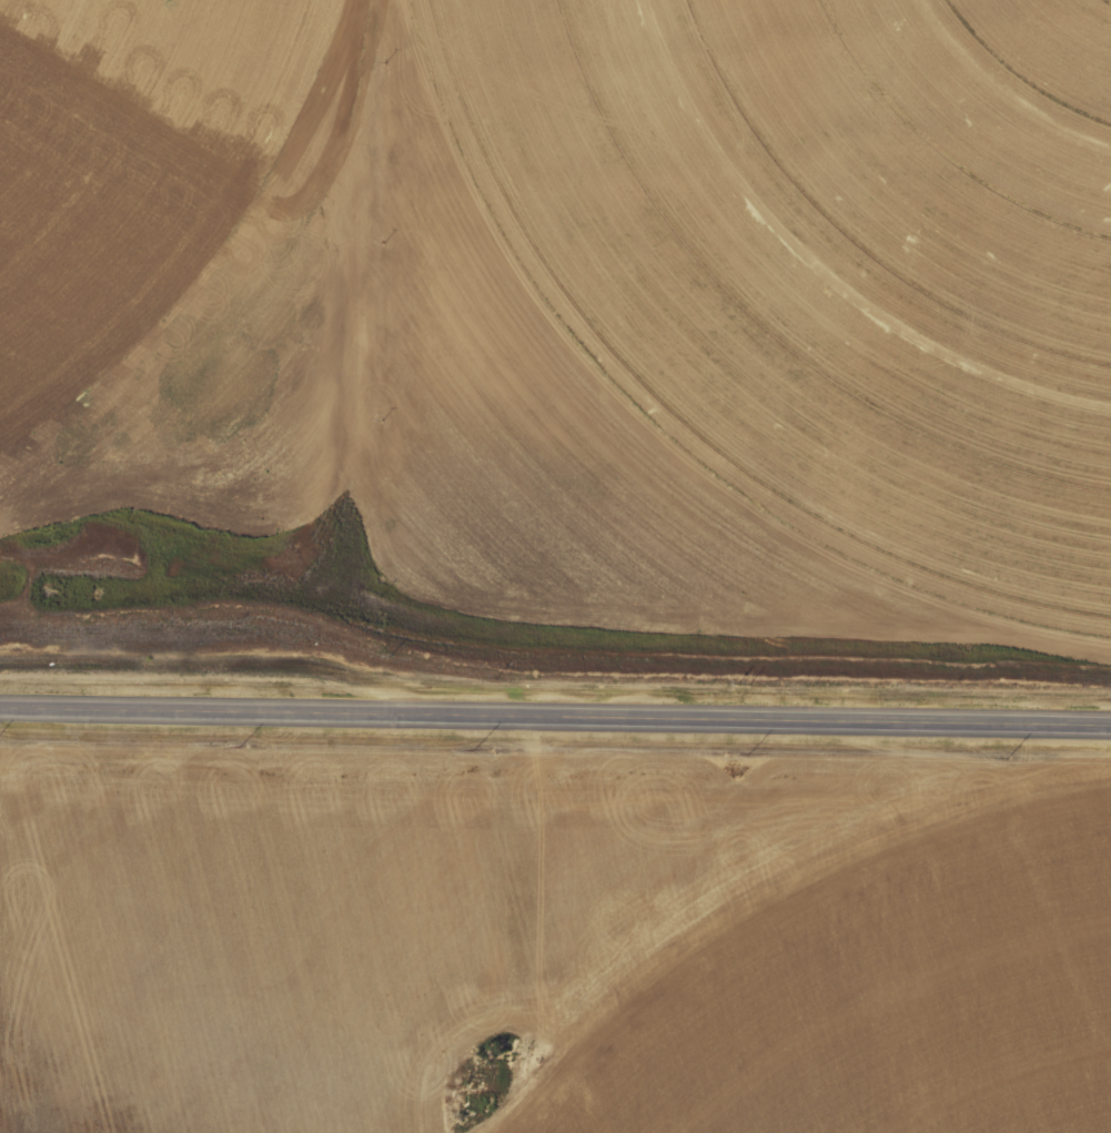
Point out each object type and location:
road: (555, 714)

